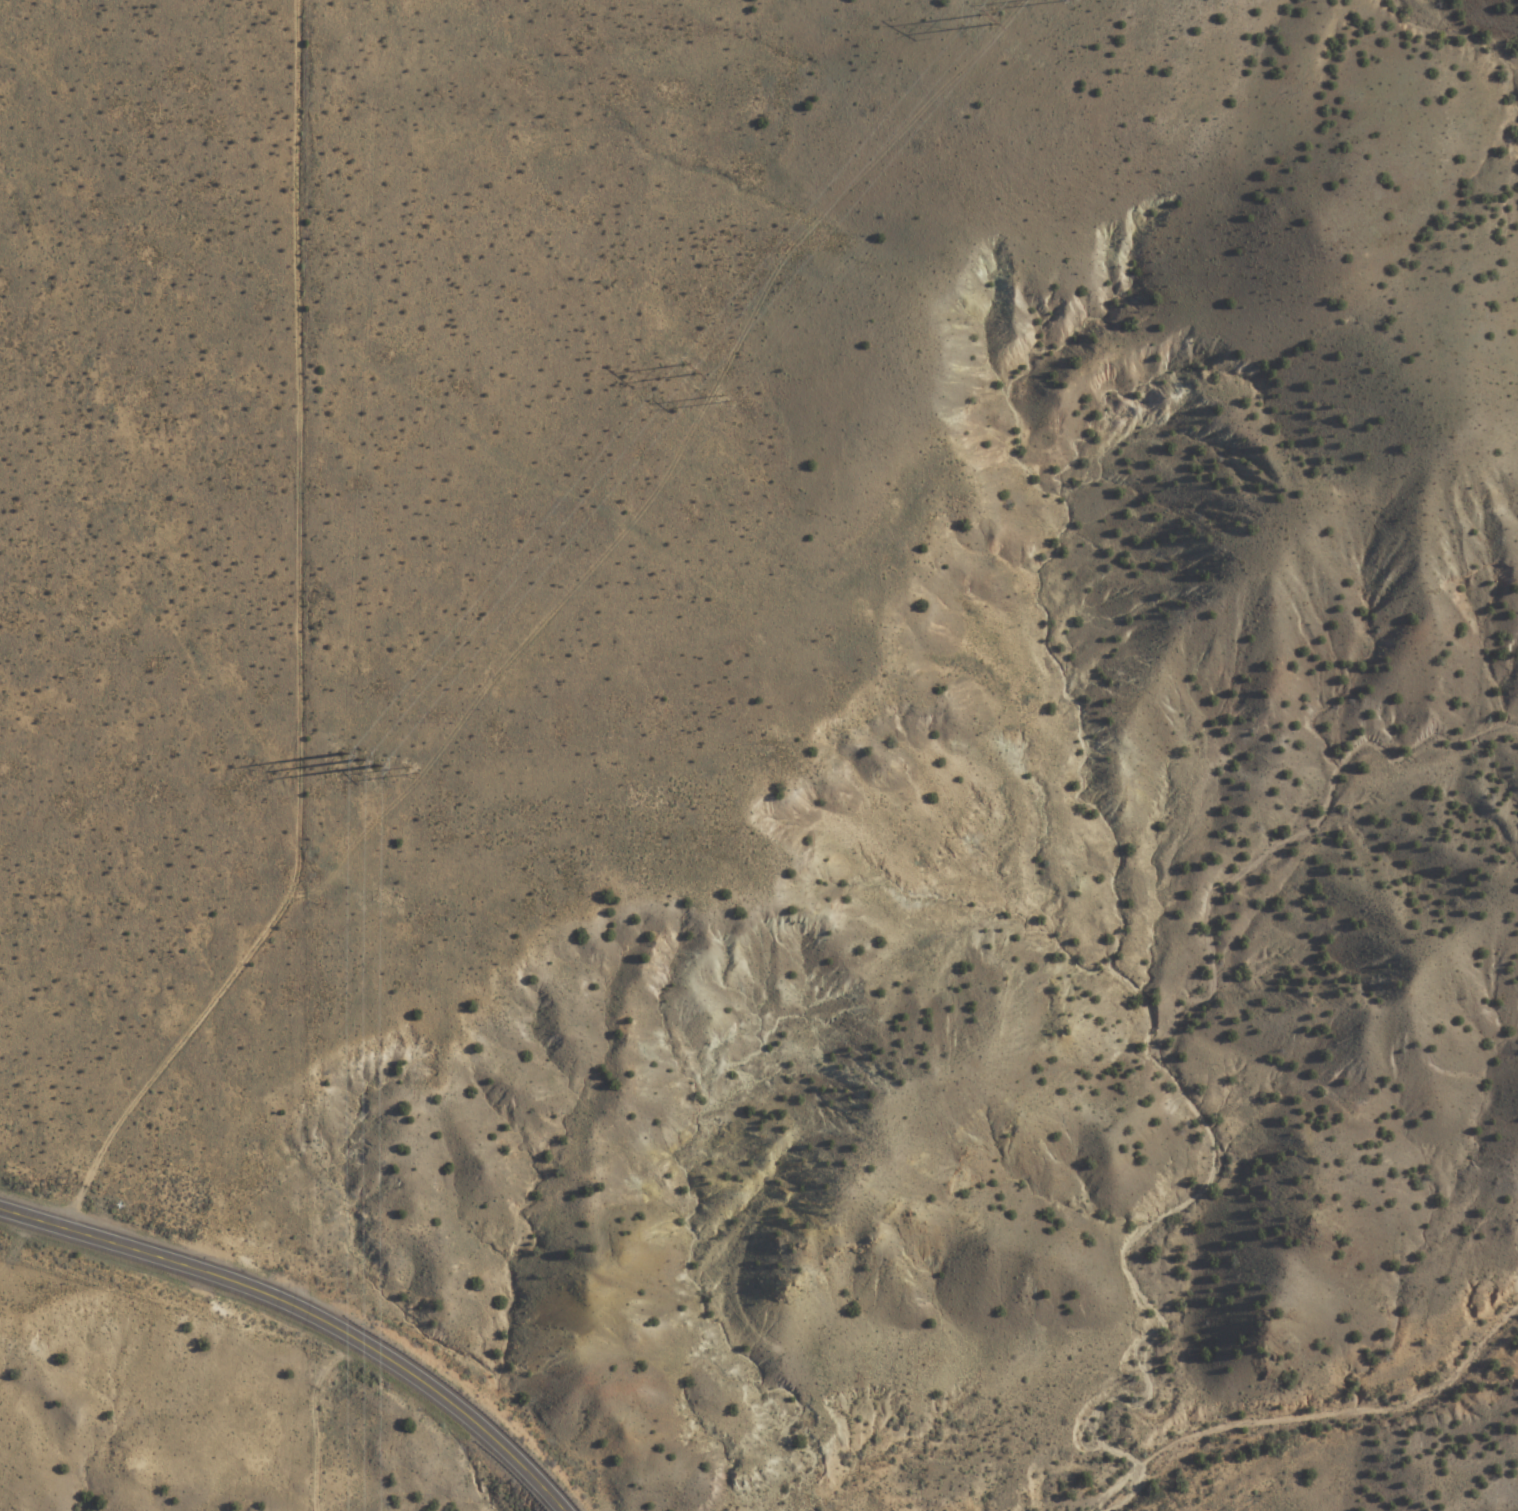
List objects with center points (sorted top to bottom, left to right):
power tower: (982, 17)
power tower: (1017, 46)
power tower: (686, 369)
power tower: (720, 400)
road: (300, 650)
power tower: (358, 757)
power tower: (410, 771)
road: (306, 1316)

